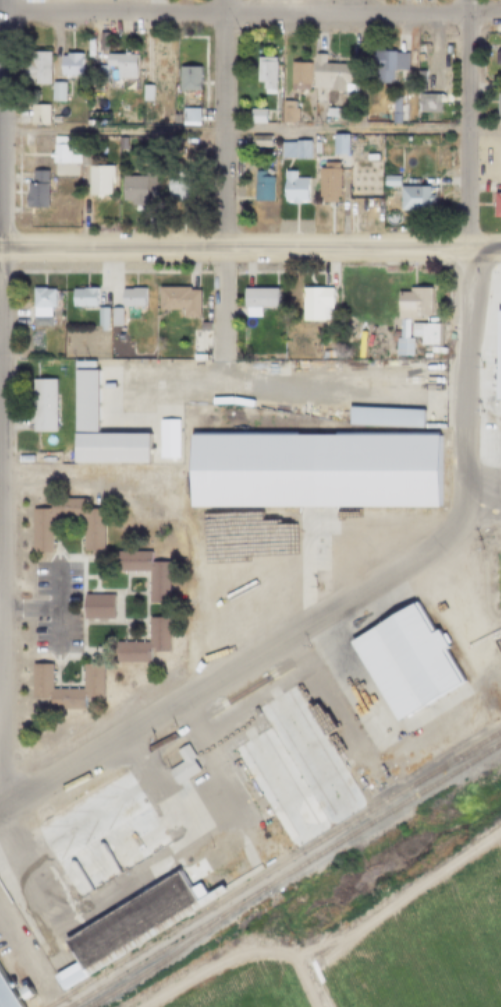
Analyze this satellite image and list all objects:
road: (250, 16)
building: (496, 59)
building: (119, 65)
building: (386, 65)
building: (64, 66)
building: (34, 67)
building: (156, 68)
building: (262, 73)
building: (328, 74)
building: (98, 75)
building: (296, 75)
building: (186, 78)
building: (54, 91)
building: (143, 93)
building: (425, 103)
building: (497, 103)
building: (394, 110)
building: (284, 112)
building: (329, 112)
building: (34, 115)
building: (253, 115)
building: (187, 116)
road: (463, 123)
road: (250, 128)
building: (189, 139)
building: (257, 141)
building: (436, 141)
building: (336, 144)
building: (61, 150)
building: (290, 150)
road: (219, 177)
building: (96, 179)
building: (175, 182)
building: (325, 182)
building: (387, 182)
building: (259, 186)
building: (291, 188)
building: (33, 189)
building: (129, 190)
building: (412, 198)
building: (495, 205)
road: (231, 247)
road: (481, 247)
building: (80, 298)
building: (129, 298)
building: (175, 300)
building: (254, 300)
building: (312, 304)
building: (38, 306)
building: (406, 315)
building: (112, 317)
building: (98, 318)
building: (201, 327)
building: (422, 333)
road: (461, 390)
building: (81, 402)
building: (40, 405)
building: (381, 418)
building: (165, 438)
building: (309, 470)
road: (477, 482)
road: (483, 494)
road: (478, 503)
building: (89, 530)
road: (249, 562)
road: (287, 572)
road: (474, 575)
building: (155, 586)
building: (94, 606)
parking lot: (53, 607)
road: (51, 610)
road: (55, 634)
building: (142, 643)
building: (401, 662)
road: (211, 667)
road: (224, 670)
building: (36, 678)
road: (383, 731)
building: (428, 739)
building: (313, 742)
parking lot: (197, 744)
railway: (470, 750)
building: (179, 766)
road: (215, 766)
building: (369, 781)
building: (273, 791)
road: (169, 808)
building: (83, 815)
building: (108, 852)
railway: (272, 869)
railway: (284, 875)
building: (124, 883)
building: (194, 889)
building: (125, 922)
railway: (162, 960)
road: (20, 967)
road: (244, 969)
building: (62, 979)
building: (18, 994)
building: (4, 999)

